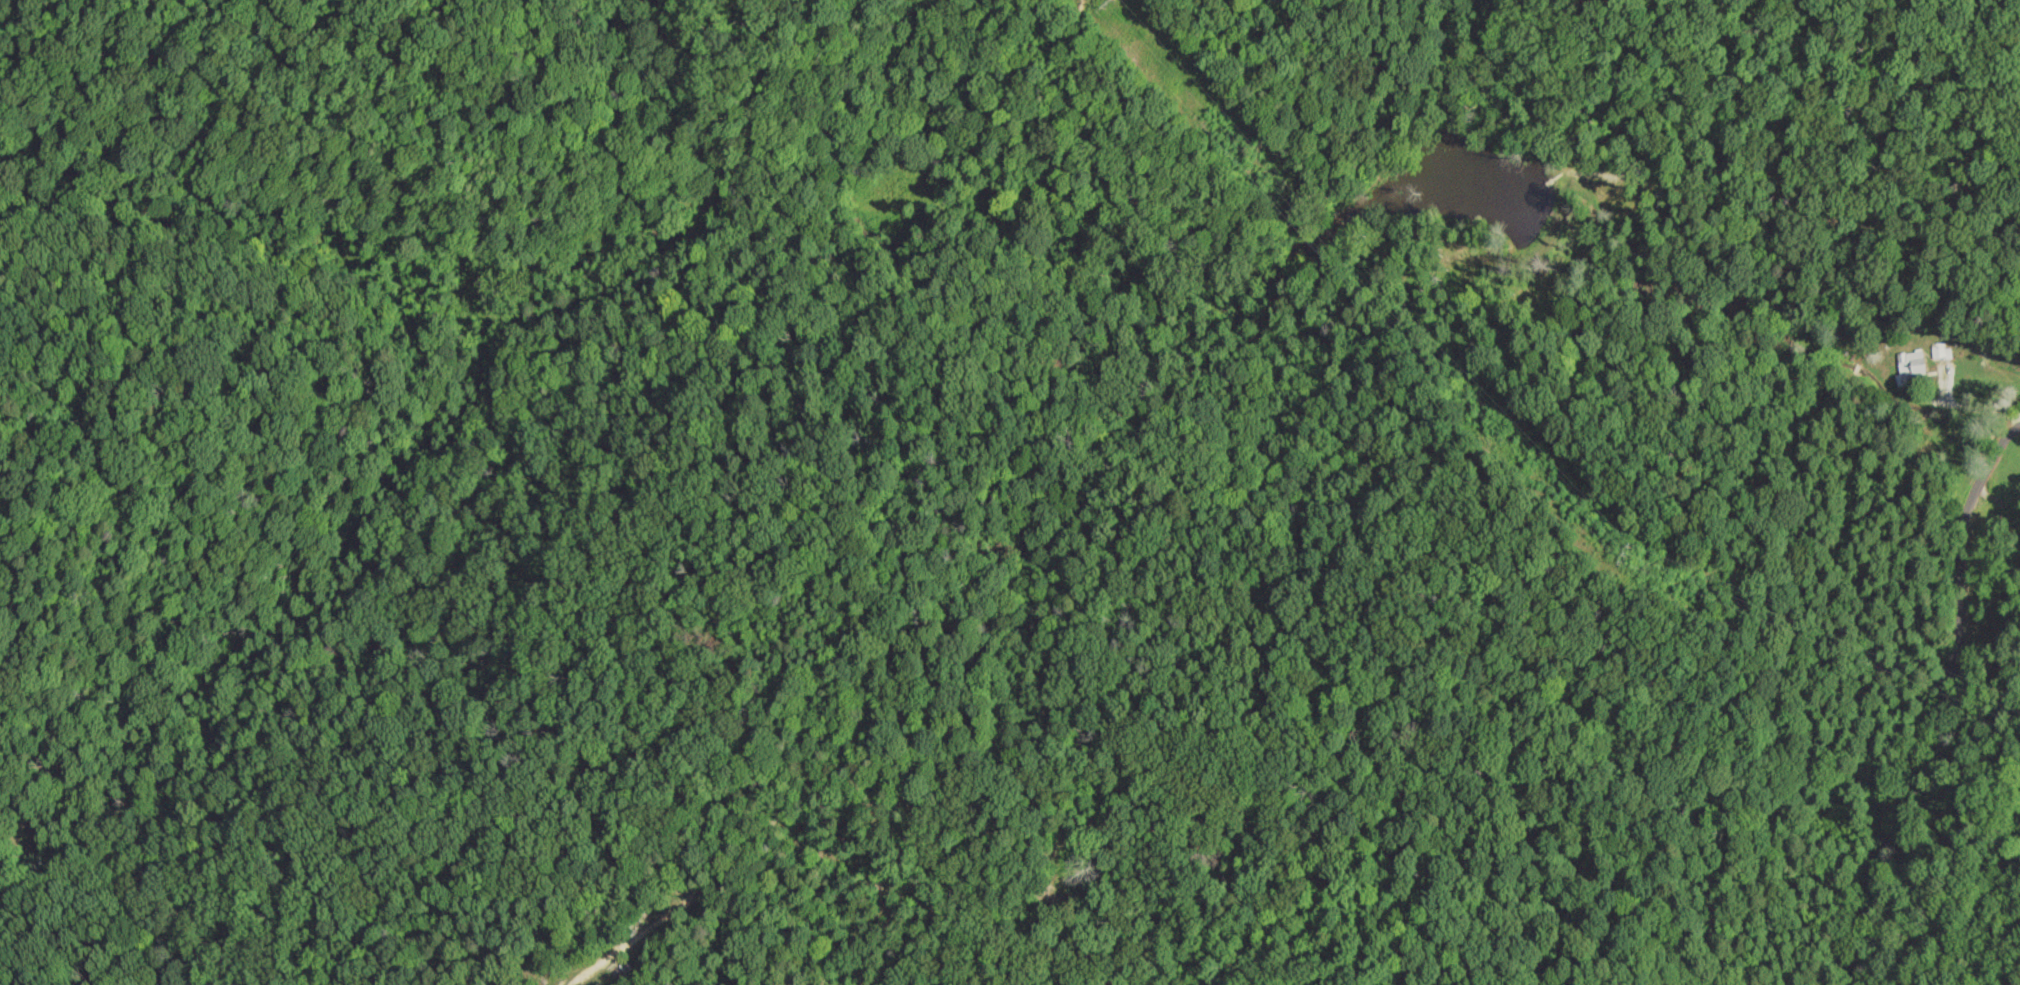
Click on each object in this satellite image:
building: (1941, 351)
building: (1912, 367)
road: (1937, 701)

